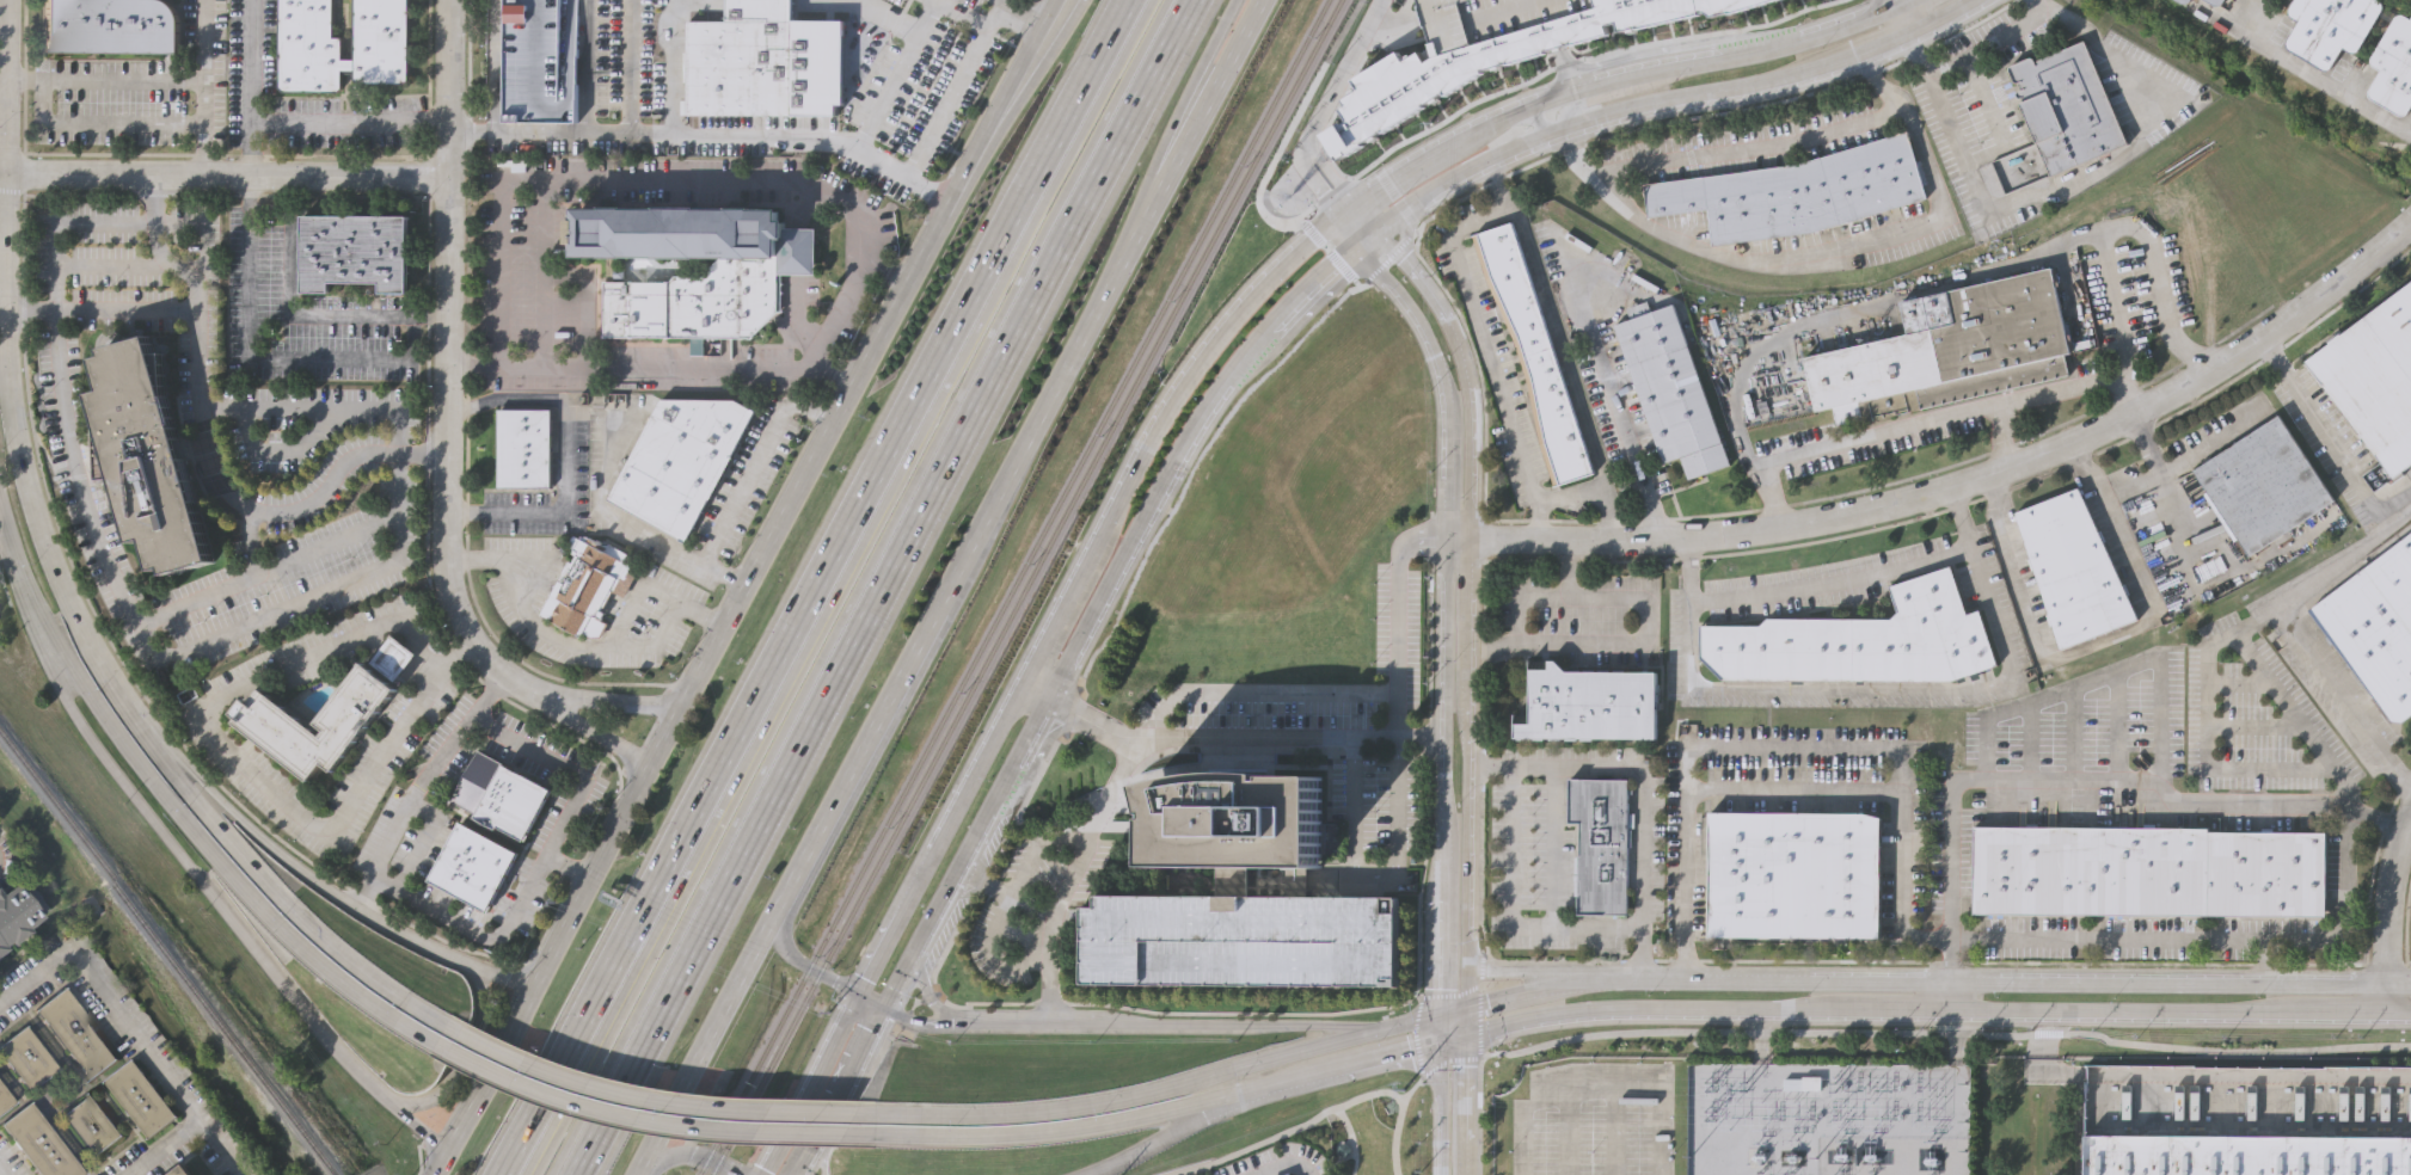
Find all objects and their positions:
building: (1775, 0)
building: (2184, 1)
building: (2216, 1)
road: (1892, 2)
road: (1924, 10)
road: (1023, 11)
road: (1894, 17)
building: (1489, 18)
parking garage: (1489, 18)
road: (1398, 21)
road: (1221, 23)
road: (1012, 24)
road: (2238, 25)
building: (110, 26)
building: (2331, 26)
road: (1803, 37)
road: (2103, 42)
building: (341, 44)
road: (1601, 54)
building: (539, 60)
parking garage: (539, 60)
road: (1020, 60)
building: (765, 61)
road: (1030, 61)
building: (1490, 62)
building: (2394, 64)
road: (1566, 69)
road: (1344, 73)
road: (1642, 73)
building: (897, 78)
road: (102, 80)
road: (2326, 82)
road: (2, 85)
road: (202, 86)
road: (254, 87)
road: (1213, 91)
road: (1594, 94)
road: (1984, 97)
road: (1668, 103)
road: (1520, 107)
building: (2067, 107)
road: (1716, 113)
road: (1186, 115)
road: (1528, 117)
road: (2161, 119)
road: (351, 124)
road: (98, 125)
road: (607, 139)
road: (838, 141)
road: (1743, 150)
road: (1411, 164)
road: (1582, 171)
road: (1, 172)
road: (225, 174)
road: (1333, 174)
road: (1317, 183)
road: (1497, 186)
road: (570, 187)
road: (931, 190)
building: (1797, 190)
road: (1984, 196)
road: (1348, 211)
road: (1368, 217)
road: (1487, 220)
road: (60, 222)
road: (2122, 224)
road: (1350, 232)
building: (695, 234)
road: (1370, 238)
road: (1872, 240)
parking lot: (98, 245)
road: (797, 245)
building: (357, 250)
road: (112, 264)
road: (1984, 270)
road: (544, 276)
road: (1315, 283)
parking lot: (114, 287)
road: (587, 300)
building: (698, 301)
parking lot: (202, 302)
road: (289, 302)
road: (96, 308)
road: (2165, 312)
road: (2123, 325)
parking lot: (148, 326)
building: (1950, 347)
road: (447, 353)
building: (1532, 353)
road: (275, 355)
parking lot: (177, 356)
road: (815, 361)
road: (1289, 361)
road: (1724, 362)
road: (650, 368)
road: (1465, 374)
building: (2375, 374)
road: (1443, 381)
building: (1668, 387)
road: (1059, 395)
road: (1611, 396)
road: (497, 399)
road: (216, 406)
road: (559, 407)
road: (1935, 419)
road: (2002, 436)
road: (1160, 437)
road: (2214, 438)
road: (2332, 442)
building: (523, 448)
road: (277, 451)
building: (154, 453)
building: (681, 461)
road: (755, 462)
road: (204, 466)
road: (2004, 469)
road: (2167, 481)
building: (2259, 486)
road: (1600, 488)
road: (297, 507)
road: (1158, 512)
road: (551, 515)
road: (1536, 519)
road: (627, 525)
road: (1459, 542)
road: (1503, 542)
road: (1448, 543)
road: (1427, 545)
building: (2072, 571)
building: (589, 583)
road: (1833, 583)
road: (854, 586)
road: (881, 586)
road: (815, 587)
road: (838, 587)
railway: (1012, 587)
railway: (1025, 587)
road: (1516, 593)
road: (637, 599)
road: (275, 611)
road: (136, 621)
road: (2257, 623)
building: (2374, 628)
road: (2292, 629)
road: (1640, 639)
road: (2099, 639)
road: (2223, 642)
road: (572, 644)
building: (1857, 644)
road: (1400, 645)
building: (391, 647)
road: (708, 647)
road: (97, 662)
road: (2239, 682)
road: (1877, 688)
road: (597, 693)
road: (1037, 696)
road: (1257, 696)
road: (2162, 703)
building: (1589, 705)
building: (314, 710)
road: (2254, 725)
road: (576, 727)
road: (1092, 727)
road: (2116, 727)
road: (2073, 734)
road: (1148, 742)
road: (2030, 742)
road: (2313, 745)
road: (861, 756)
road: (243, 763)
road: (1492, 763)
road: (2209, 764)
road: (1894, 765)
road: (1467, 773)
road: (1446, 777)
road: (419, 787)
road: (1791, 789)
building: (504, 793)
road: (2318, 802)
building: (1233, 812)
road: (1646, 812)
road: (171, 813)
building: (1602, 837)
road: (940, 841)
road: (424, 842)
road: (276, 851)
building: (476, 865)
road: (541, 865)
road: (1687, 866)
road: (565, 867)
building: (2148, 868)
building: (1796, 873)
road: (1374, 875)
road: (1951, 881)
road: (207, 888)
building: (17, 911)
road: (2382, 911)
road: (1511, 915)
road: (1067, 922)
building: (1239, 939)
parking garage: (1239, 939)
road: (2151, 939)
road: (925, 940)
railway: (171, 954)
road: (2265, 962)
road: (1533, 970)
road: (495, 971)
road: (1699, 982)
road: (1822, 983)
road: (1575, 984)
road: (2125, 984)
traffic signals: (855, 991)
road: (1508, 992)
road: (1447, 993)
road: (1952, 996)
road: (928, 997)
traffic signals: (1466, 1003)
road: (1454, 1005)
traffic signals: (888, 1008)
road: (1710, 1008)
traffic signals: (1443, 1009)
road: (1916, 1009)
road: (2124, 1010)
road: (2338, 1010)
road: (2394, 1011)
road: (1465, 1019)
road: (1479, 1023)
road: (1502, 1023)
road: (131, 1025)
road: (1443, 1026)
road: (1039, 1029)
building: (78, 1032)
road: (1887, 1033)
road: (1415, 1034)
traffic signals: (1465, 1034)
road: (1454, 1038)
road: (707, 1040)
traffic signals: (1443, 1042)
road: (458, 1053)
building: (25, 1057)
road: (1449, 1060)
road: (1593, 1075)
road: (2195, 1077)
road: (805, 1083)
building: (1802, 1084)
road: (1162, 1087)
building: (141, 1096)
building: (5, 1097)
road: (651, 1100)
road: (1465, 1105)
road: (1442, 1108)
road: (1661, 1108)
road: (1161, 1113)
road: (1522, 1113)
power substation: (1828, 1118)
road: (644, 1120)
parking lot: (1595, 1120)
building: (93, 1122)
road: (1398, 1122)
road: (1171, 1131)
road: (1286, 1131)
building: (41, 1142)
road: (160, 1144)
building: (2247, 1154)
road: (686, 1155)
road: (1280, 1164)
road: (2, 1170)
building: (185, 1170)
road: (639, 1174)
building: (1287, 1174)

